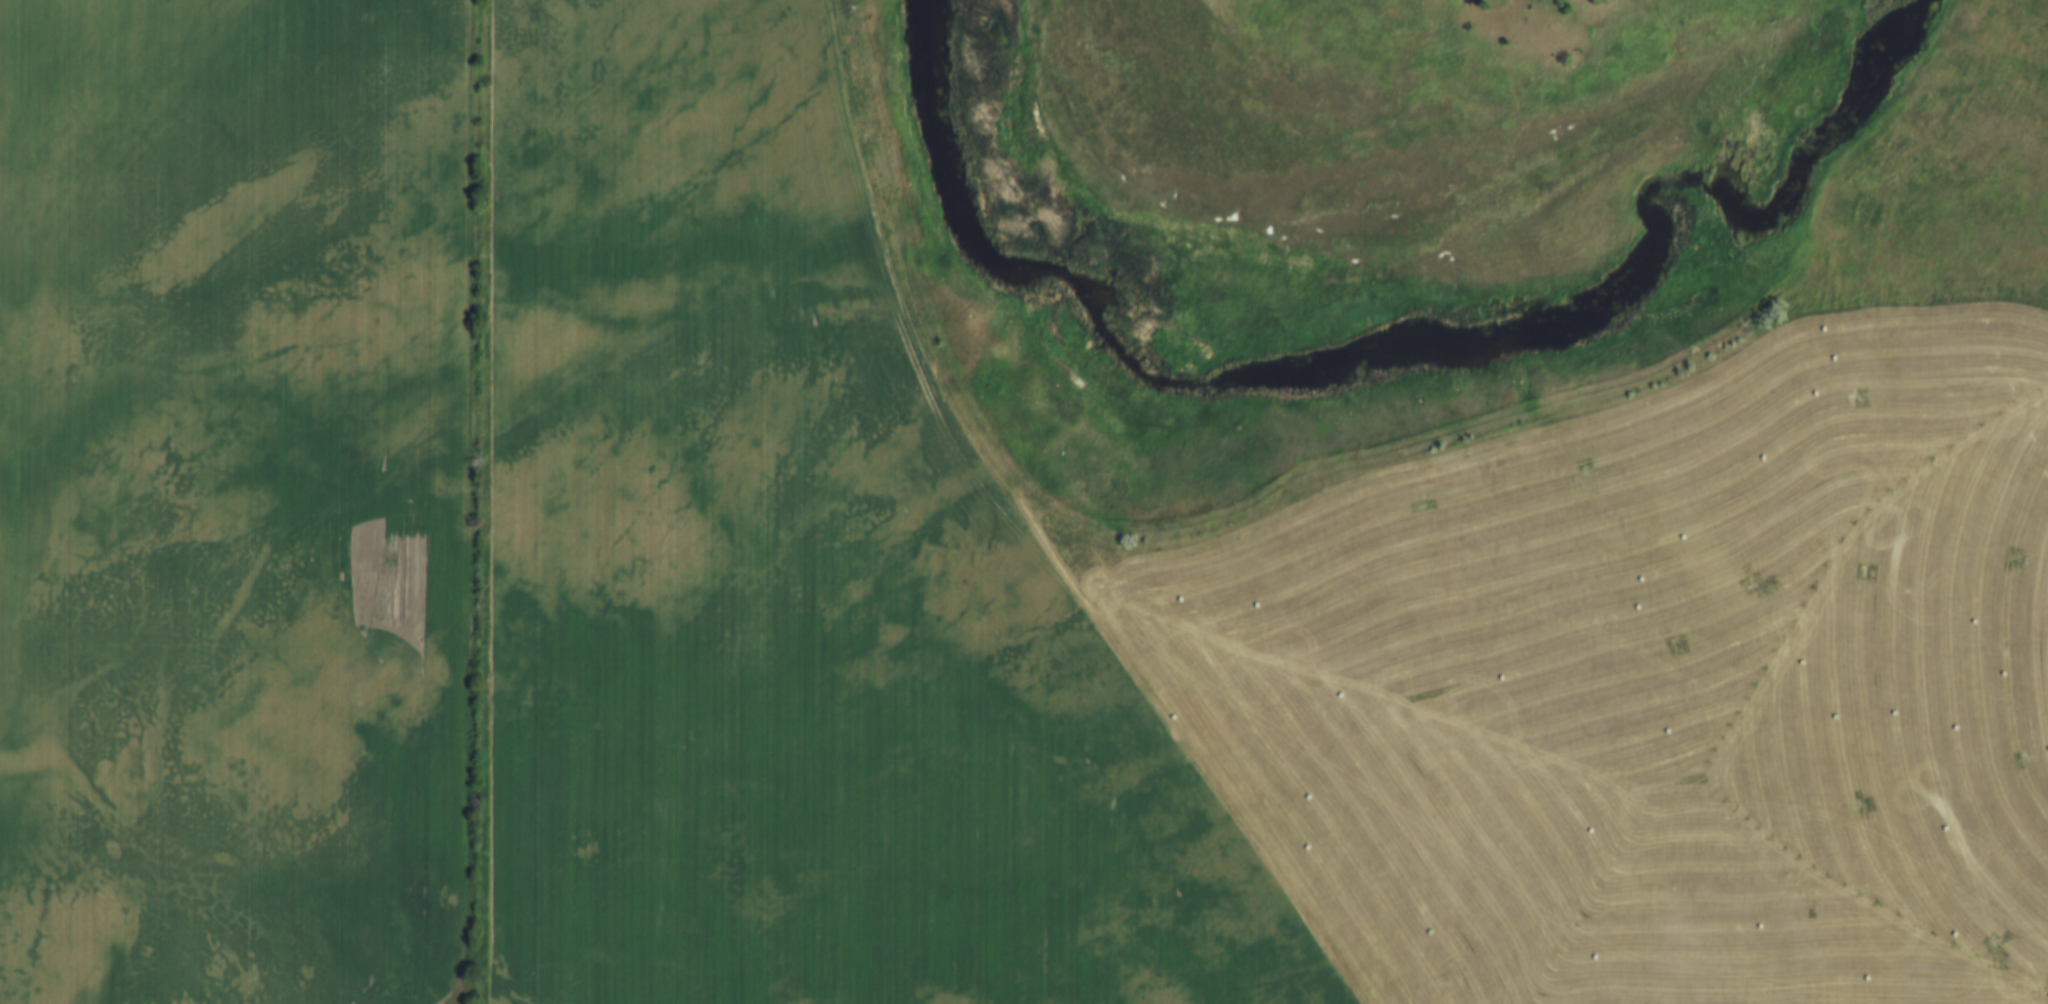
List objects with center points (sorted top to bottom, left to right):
road: (1018, 532)

